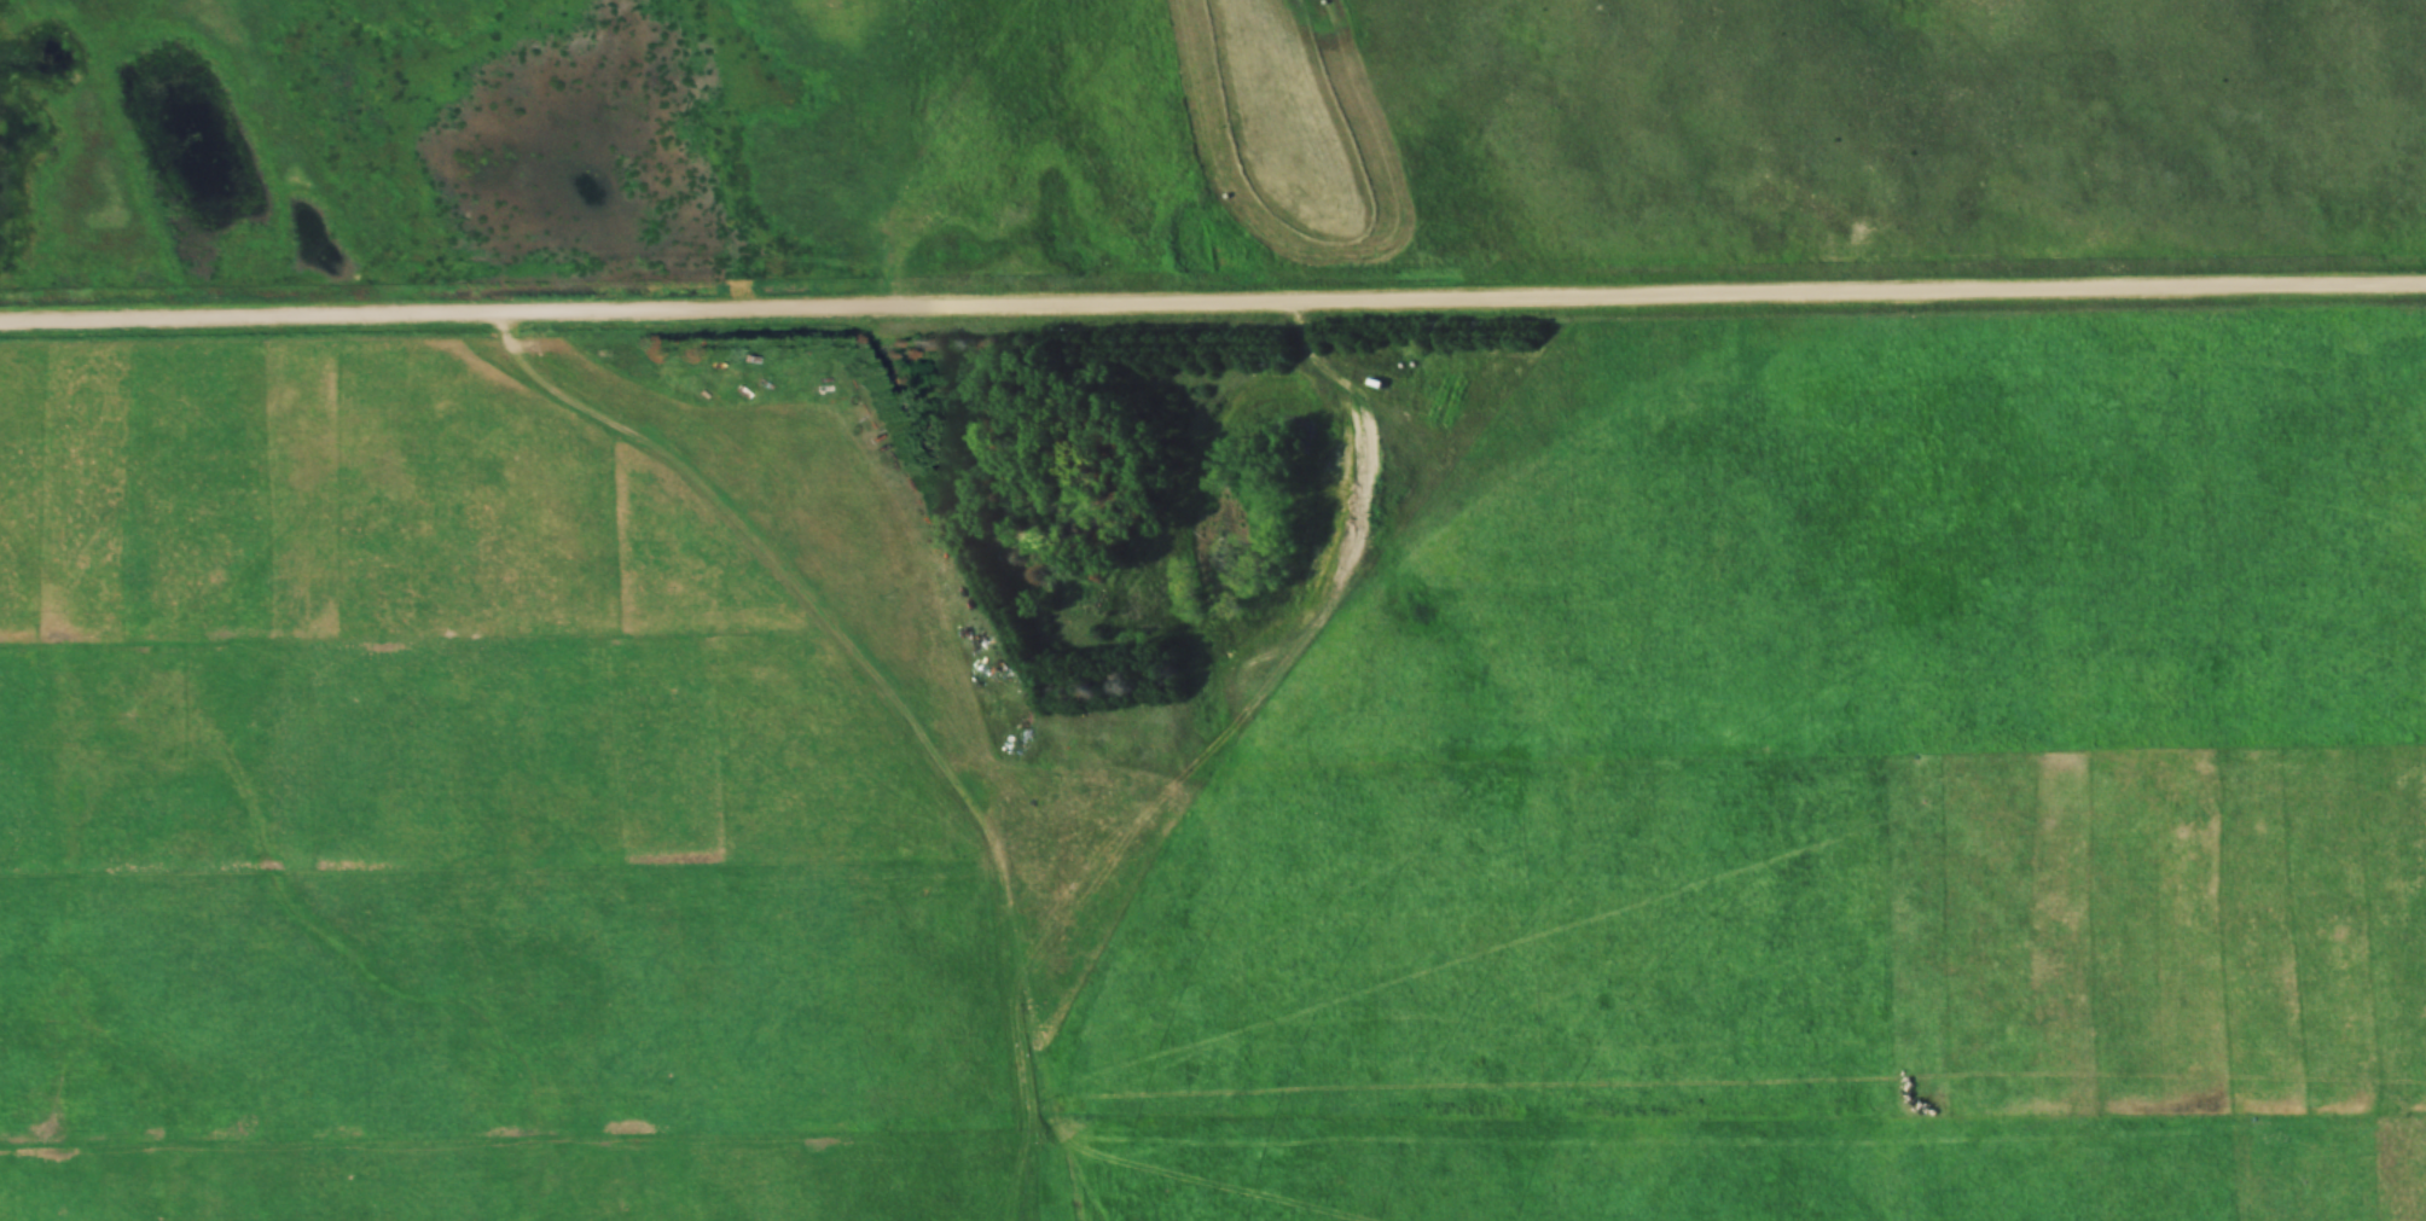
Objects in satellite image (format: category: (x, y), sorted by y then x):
road: (1213, 310)

